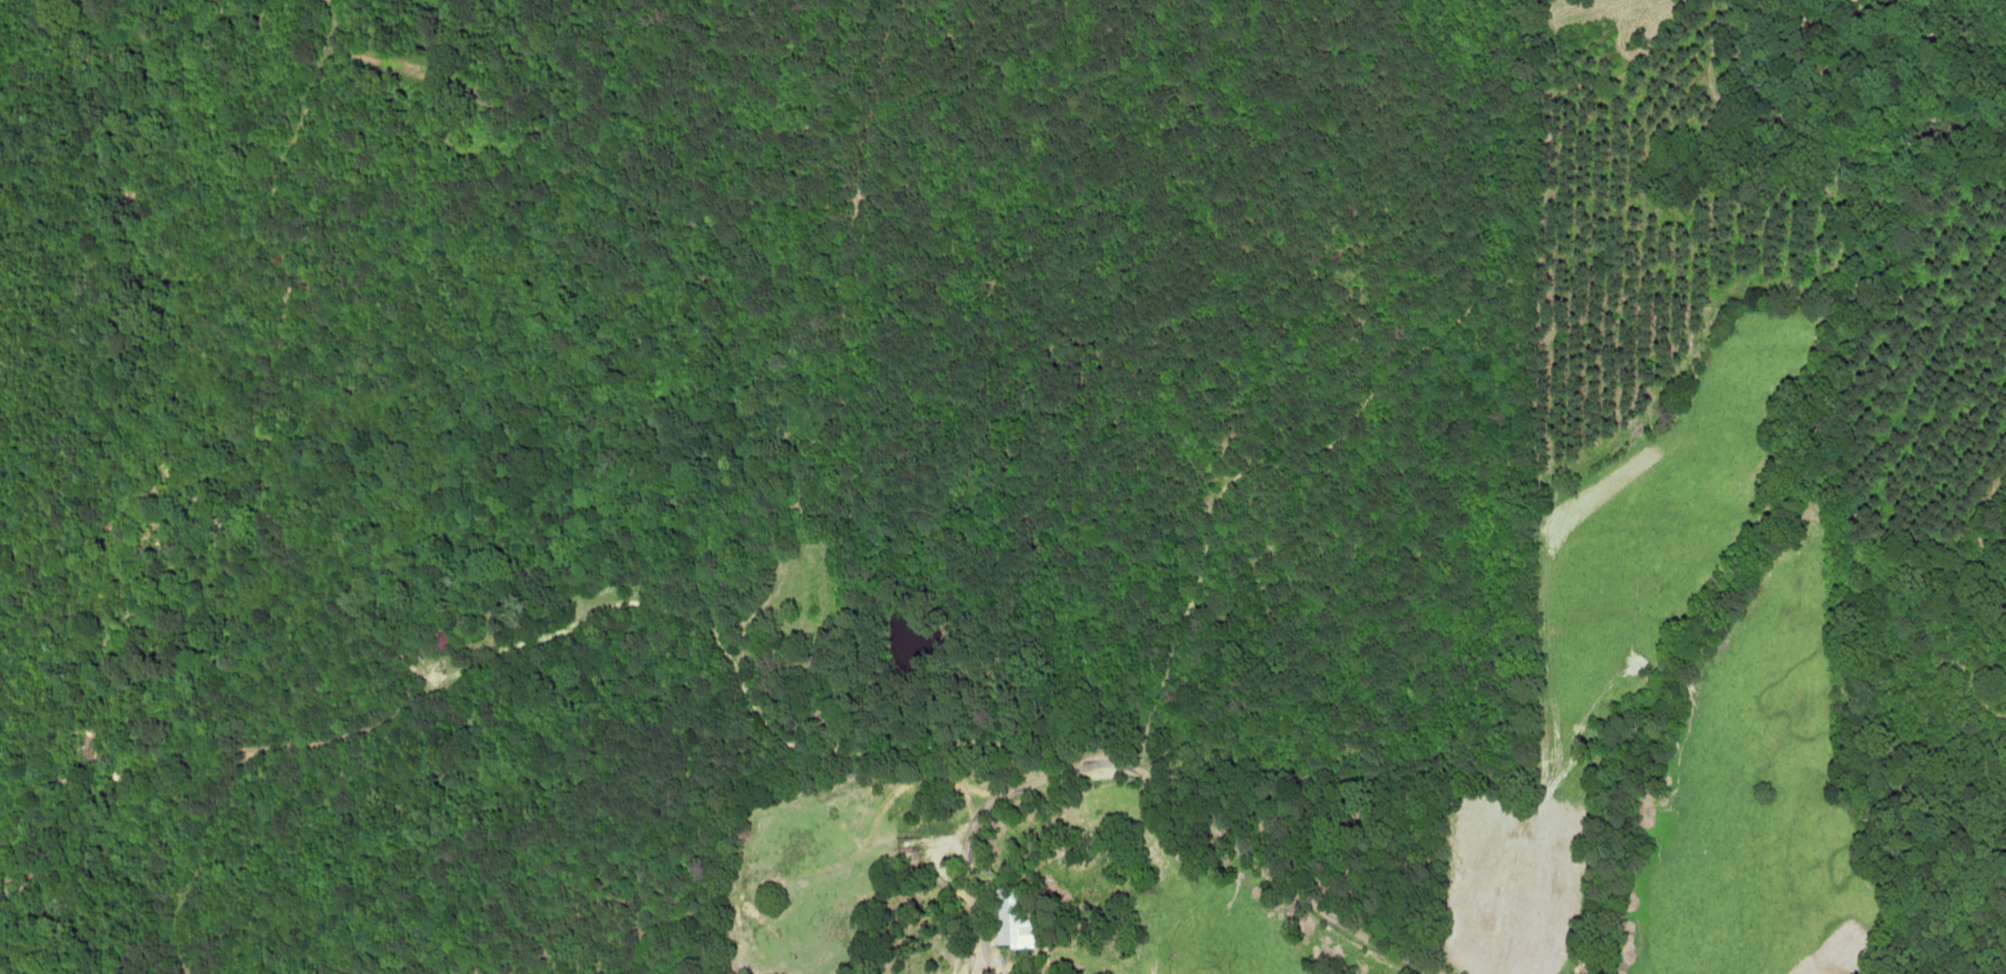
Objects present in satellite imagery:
building: (449, 640)
road: (734, 692)
building: (827, 709)
building: (1013, 915)

